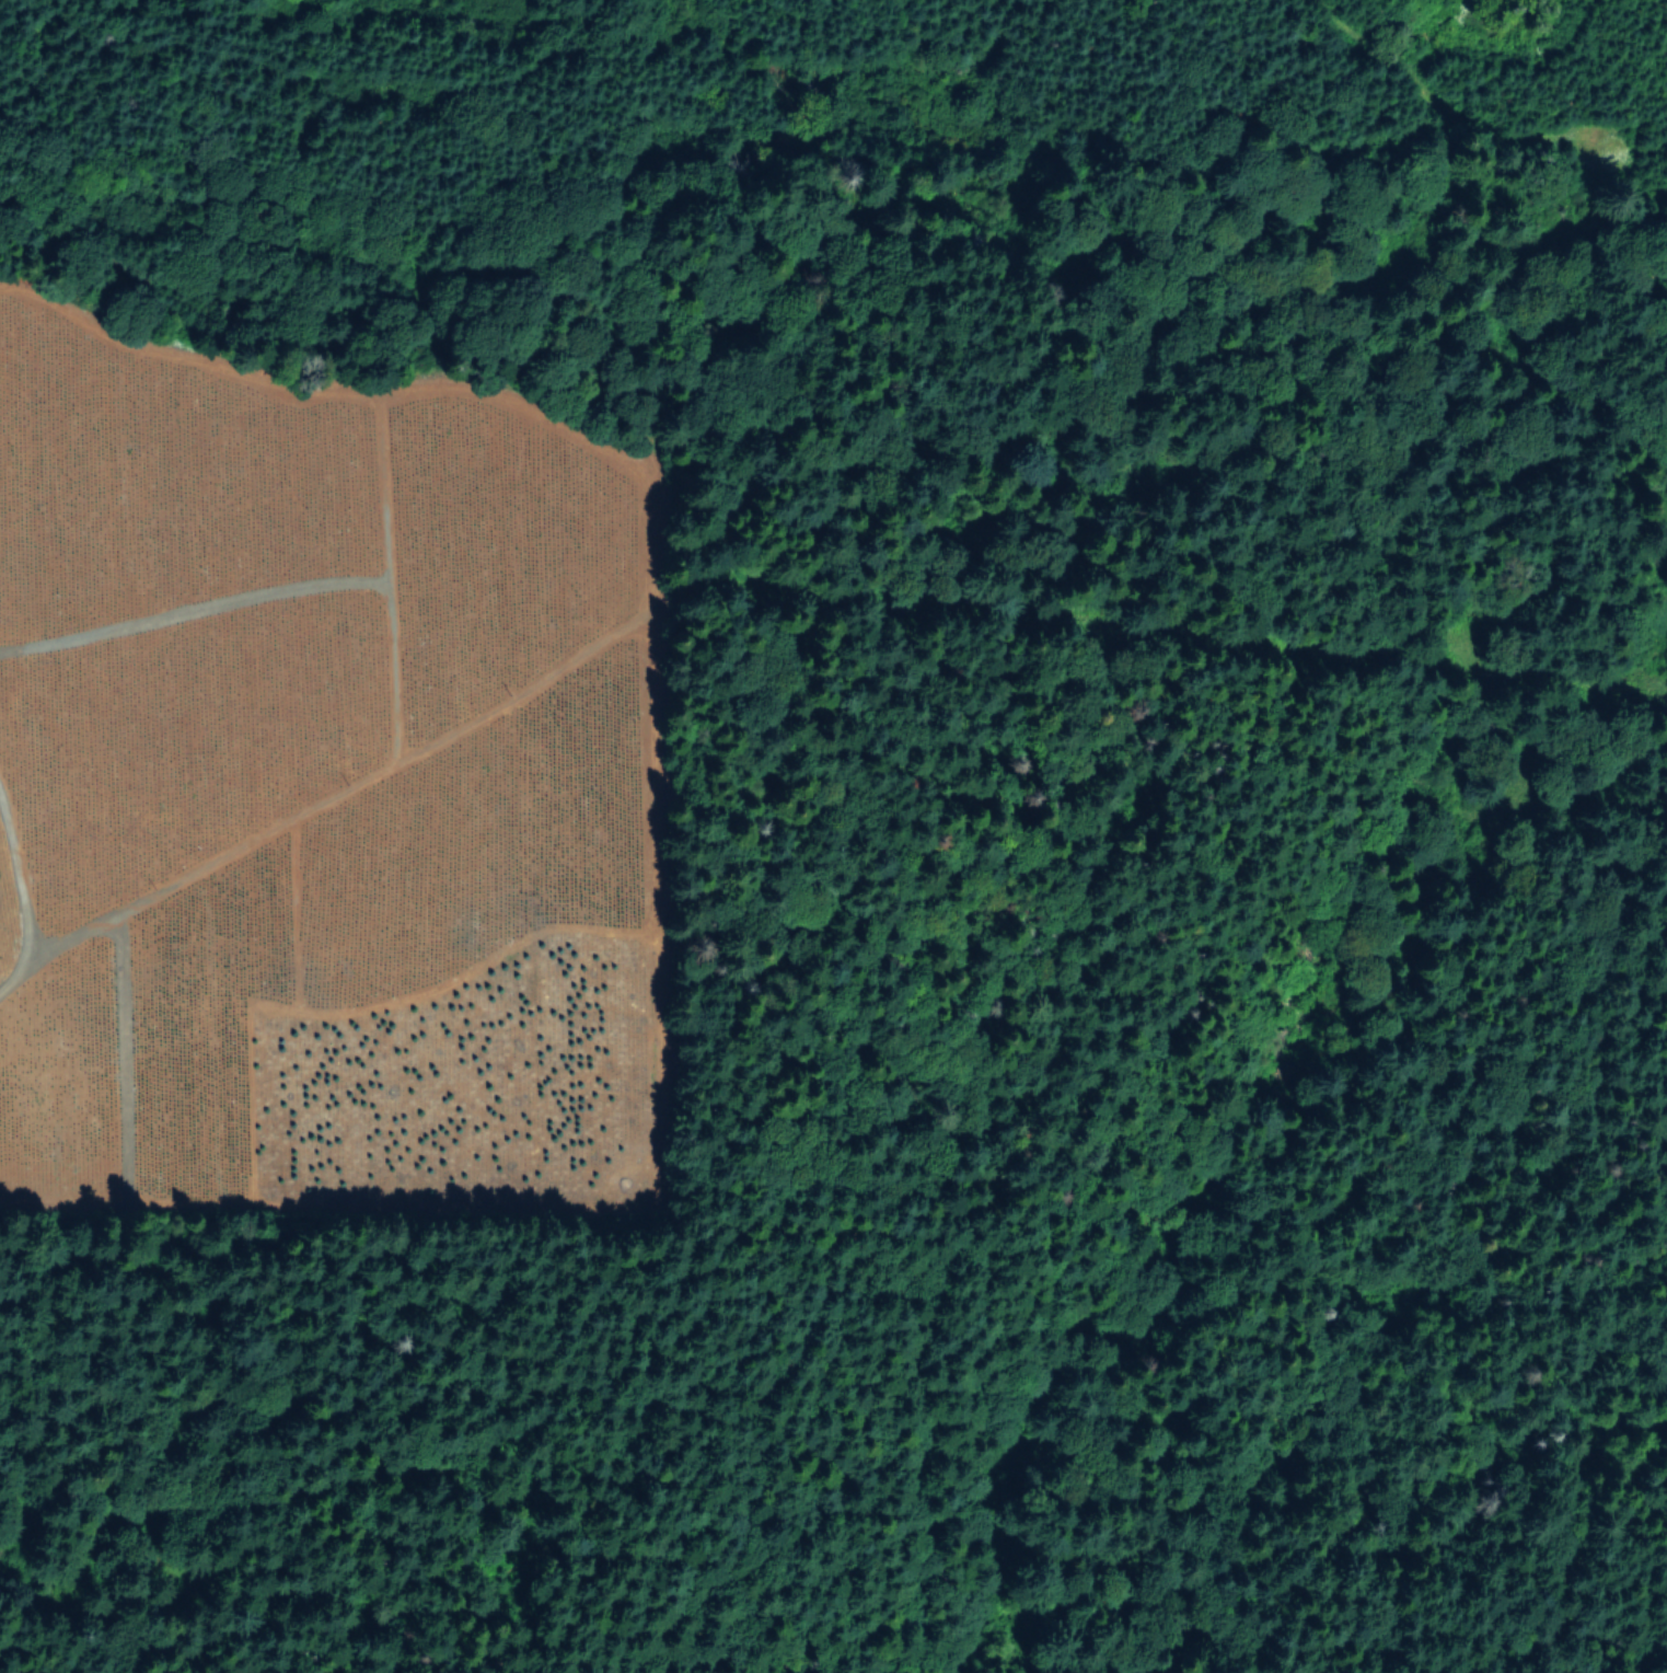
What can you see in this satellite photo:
road: (18, 902)

